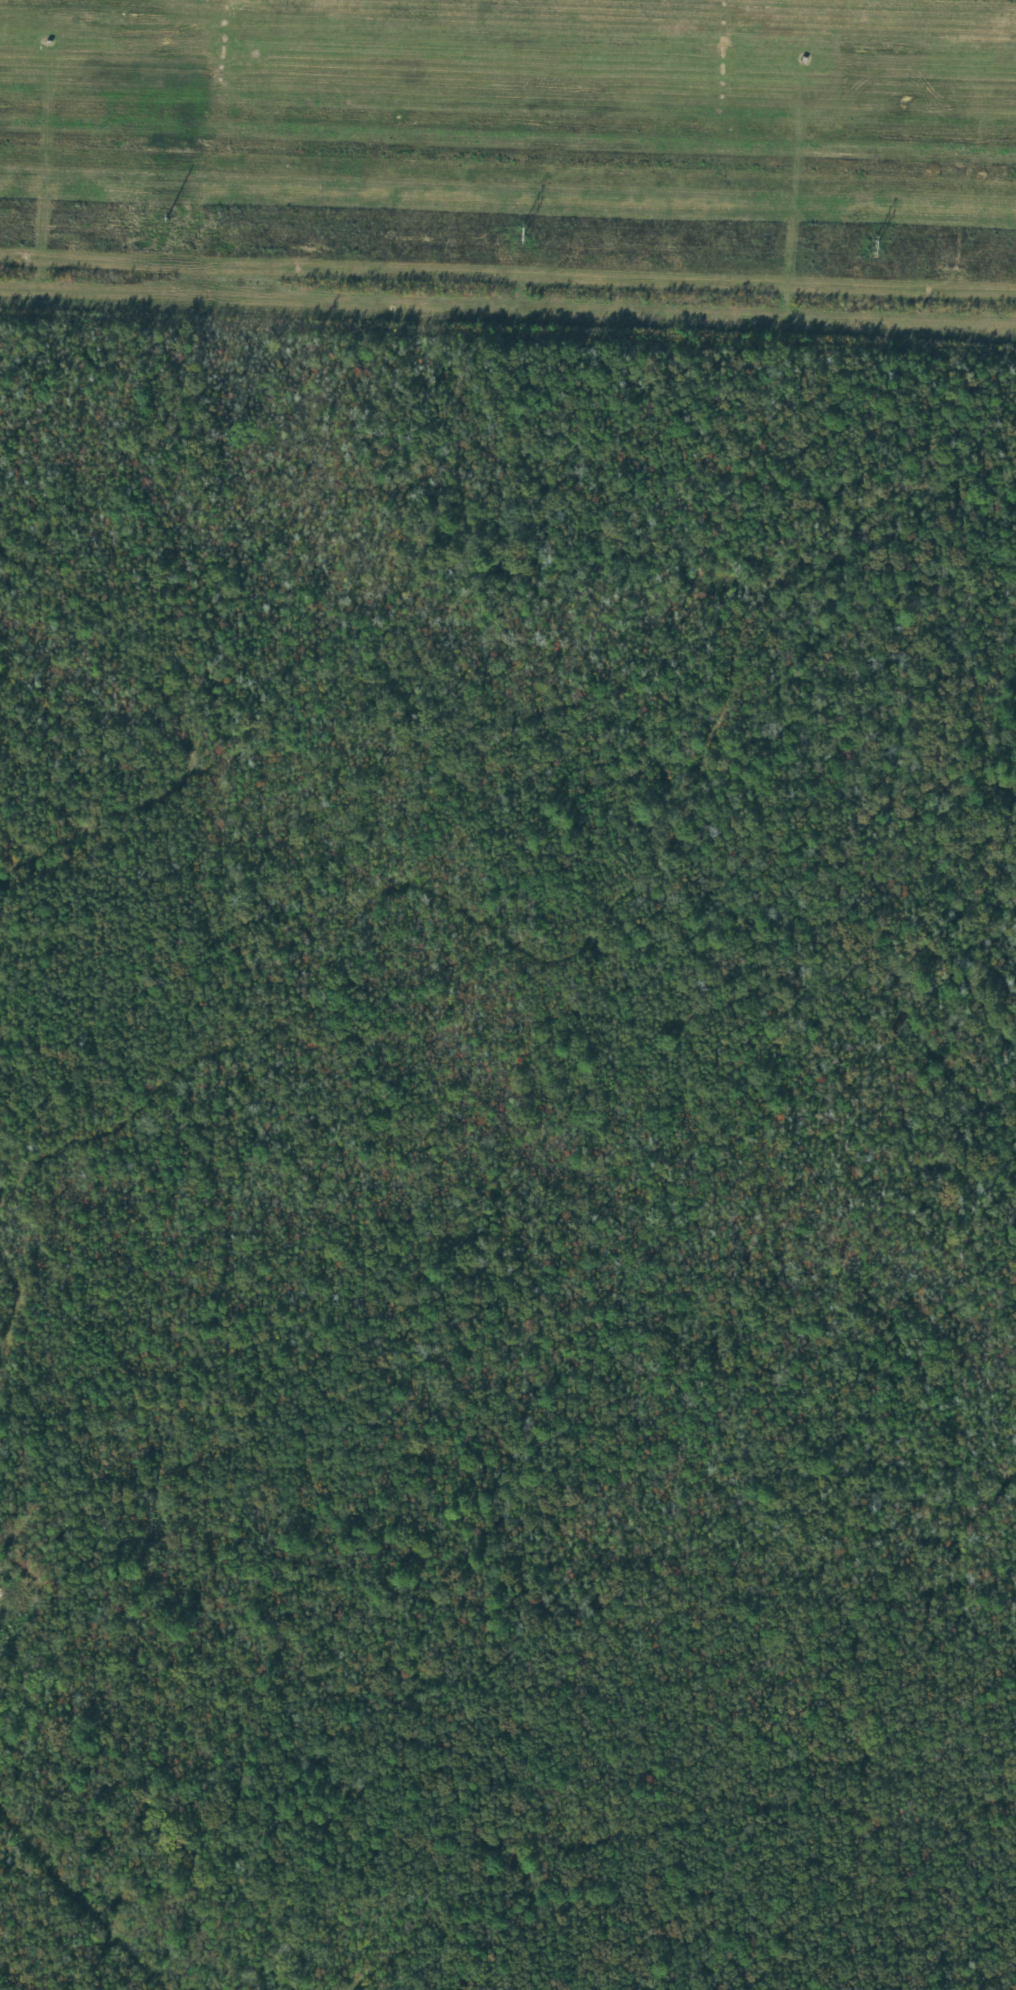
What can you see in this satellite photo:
road: (79, 1908)

